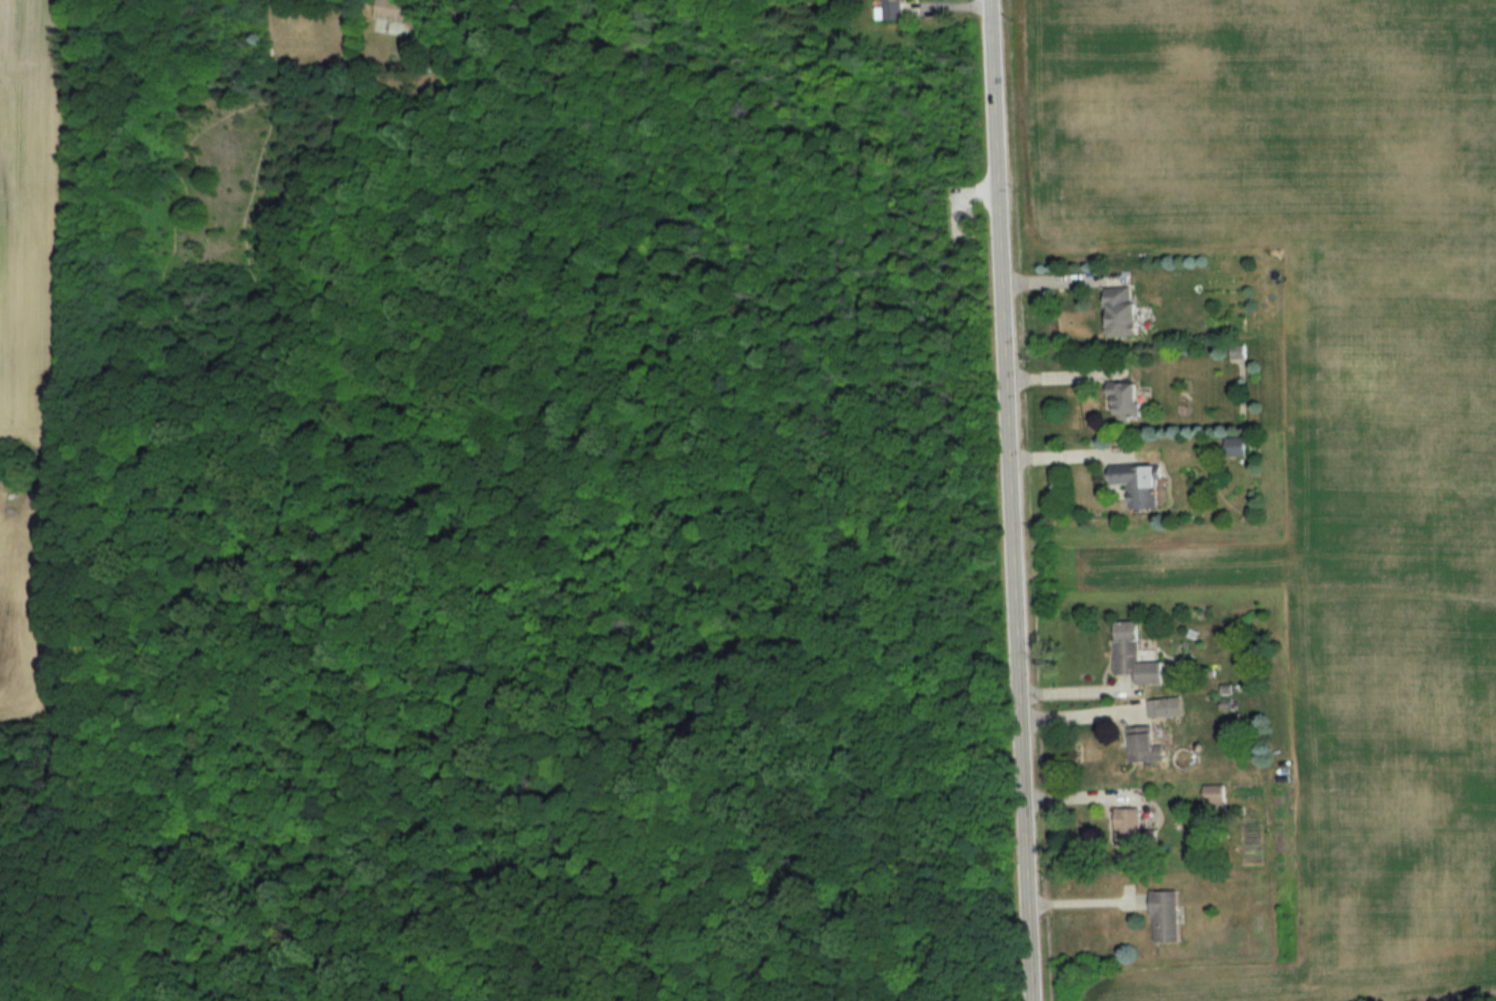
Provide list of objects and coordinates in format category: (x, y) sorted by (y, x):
building: (393, 10)
building: (889, 10)
road: (1000, 150)
road: (958, 193)
parking lot: (959, 211)
crop: (33, 223)
building: (1120, 311)
building: (1236, 351)
building: (1124, 398)
crop: (1324, 426)
building: (1234, 446)
building: (1136, 482)
road: (119, 549)
road: (384, 612)
crop: (24, 624)
road: (1023, 650)
building: (1135, 655)
building: (1165, 707)
road: (1082, 714)
building: (1145, 746)
building: (1134, 838)
road: (118, 887)
building: (1166, 916)

